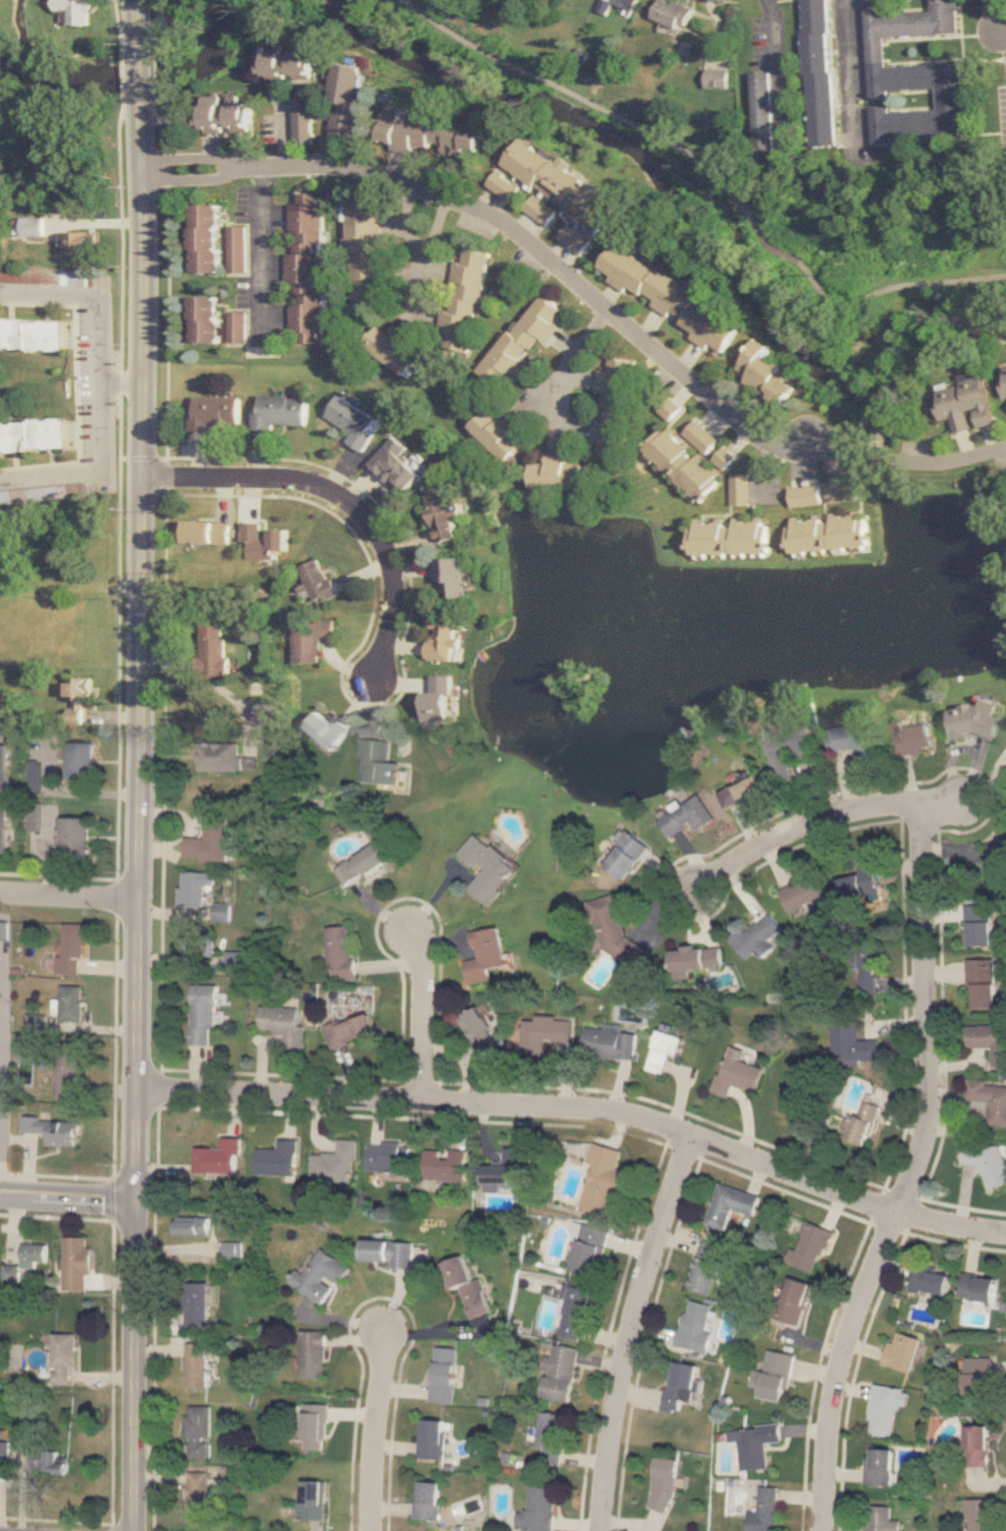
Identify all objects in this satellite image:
building: (869, 0)
building: (629, 4)
building: (74, 13)
building: (674, 15)
road: (998, 15)
road: (154, 25)
park: (181, 26)
road: (138, 27)
road: (719, 29)
road: (167, 31)
road: (1002, 35)
river: (33, 49)
road: (775, 62)
building: (288, 66)
road: (854, 70)
road: (168, 73)
building: (819, 73)
road: (139, 74)
road: (154, 74)
building: (915, 74)
river: (129, 80)
building: (717, 80)
road: (585, 101)
building: (347, 105)
building: (763, 113)
road: (168, 114)
building: (227, 119)
parking lot: (1003, 121)
road: (162, 127)
building: (306, 130)
building: (432, 136)
road: (286, 139)
road: (192, 158)
road: (193, 180)
building: (554, 188)
park: (810, 199)
river: (725, 204)
river: (688, 222)
road: (408, 225)
building: (35, 228)
building: (208, 240)
building: (577, 240)
building: (83, 244)
road: (770, 246)
road: (265, 252)
building: (364, 260)
road: (429, 260)
building: (308, 269)
building: (63, 279)
road: (889, 289)
building: (675, 300)
building: (466, 306)
building: (207, 320)
road: (625, 323)
building: (238, 328)
building: (34, 336)
building: (524, 342)
building: (393, 349)
road: (569, 370)
building: (767, 374)
building: (1004, 380)
road: (122, 383)
road: (98, 390)
building: (966, 403)
building: (616, 409)
building: (216, 414)
building: (280, 414)
building: (354, 424)
building: (499, 436)
building: (703, 438)
building: (35, 439)
building: (726, 460)
building: (686, 465)
building: (399, 468)
road: (769, 470)
building: (558, 476)
building: (743, 492)
building: (844, 494)
road: (344, 498)
building: (808, 498)
building: (443, 516)
building: (207, 535)
building: (830, 535)
building: (731, 539)
building: (264, 544)
building: (56, 550)
building: (450, 579)
building: (317, 584)
building: (440, 639)
building: (309, 641)
road: (143, 646)
building: (213, 648)
road: (211, 684)
building: (257, 690)
building: (78, 699)
building: (436, 704)
building: (974, 721)
building: (326, 731)
building: (913, 739)
building: (855, 740)
building: (788, 751)
building: (219, 757)
building: (80, 761)
building: (375, 763)
building: (742, 791)
building: (2, 797)
road: (943, 798)
building: (33, 816)
building: (687, 816)
road: (802, 823)
building: (74, 838)
building: (209, 840)
building: (624, 854)
building: (997, 862)
building: (363, 863)
building: (486, 865)
building: (862, 883)
building: (195, 887)
building: (804, 893)
road: (69, 896)
building: (222, 912)
building: (980, 925)
building: (613, 931)
building: (757, 936)
building: (198, 944)
building: (71, 950)
building: (340, 952)
building: (484, 957)
building: (696, 958)
building: (869, 973)
building: (982, 983)
building: (71, 1003)
road: (2, 1006)
road: (423, 1013)
building: (203, 1015)
building: (282, 1025)
building: (349, 1030)
building: (544, 1032)
building: (480, 1034)
building: (989, 1040)
building: (849, 1042)
building: (609, 1043)
building: (665, 1050)
building: (69, 1070)
building: (736, 1072)
building: (989, 1099)
road: (581, 1107)
road: (401, 1111)
road: (237, 1112)
road: (290, 1113)
road: (377, 1117)
building: (861, 1121)
road: (318, 1124)
building: (54, 1128)
road: (618, 1129)
building: (388, 1152)
building: (218, 1154)
building: (278, 1154)
building: (336, 1161)
building: (448, 1161)
building: (986, 1161)
building: (499, 1167)
road: (909, 1171)
road: (755, 1172)
building: (603, 1176)
road: (69, 1196)
building: (729, 1203)
road: (889, 1221)
building: (191, 1222)
road: (629, 1238)
building: (231, 1248)
building: (387, 1249)
building: (589, 1250)
building: (32, 1254)
building: (76, 1262)
building: (704, 1266)
building: (10, 1272)
building: (802, 1272)
building: (318, 1276)
building: (929, 1279)
road: (400, 1280)
building: (467, 1283)
building: (977, 1286)
road: (382, 1291)
building: (197, 1302)
road: (390, 1307)
road: (321, 1310)
building: (574, 1312)
road: (368, 1316)
road: (455, 1324)
building: (693, 1326)
road: (871, 1327)
road: (399, 1328)
road: (627, 1328)
road: (604, 1329)
road: (368, 1335)
road: (339, 1337)
road: (162, 1344)
building: (312, 1351)
building: (901, 1351)
building: (63, 1357)
road: (599, 1361)
building: (198, 1362)
road: (135, 1365)
building: (443, 1370)
building: (561, 1370)
building: (774, 1375)
building: (978, 1375)
road: (388, 1382)
road: (415, 1383)
building: (679, 1385)
road: (351, 1408)
building: (884, 1409)
building: (315, 1423)
road: (374, 1424)
building: (199, 1426)
building: (551, 1430)
building: (432, 1435)
road: (396, 1440)
building: (753, 1444)
road: (161, 1445)
building: (978, 1445)
building: (3, 1451)
road: (583, 1451)
building: (34, 1455)
building: (878, 1466)
road: (161, 1472)
building: (662, 1484)
building: (199, 1489)
building: (311, 1496)
building: (426, 1497)
road: (393, 1501)
building: (539, 1508)
building: (763, 1511)
building: (978, 1515)
road: (576, 1518)
building: (876, 1518)
building: (199, 1525)
road: (328, 1530)

